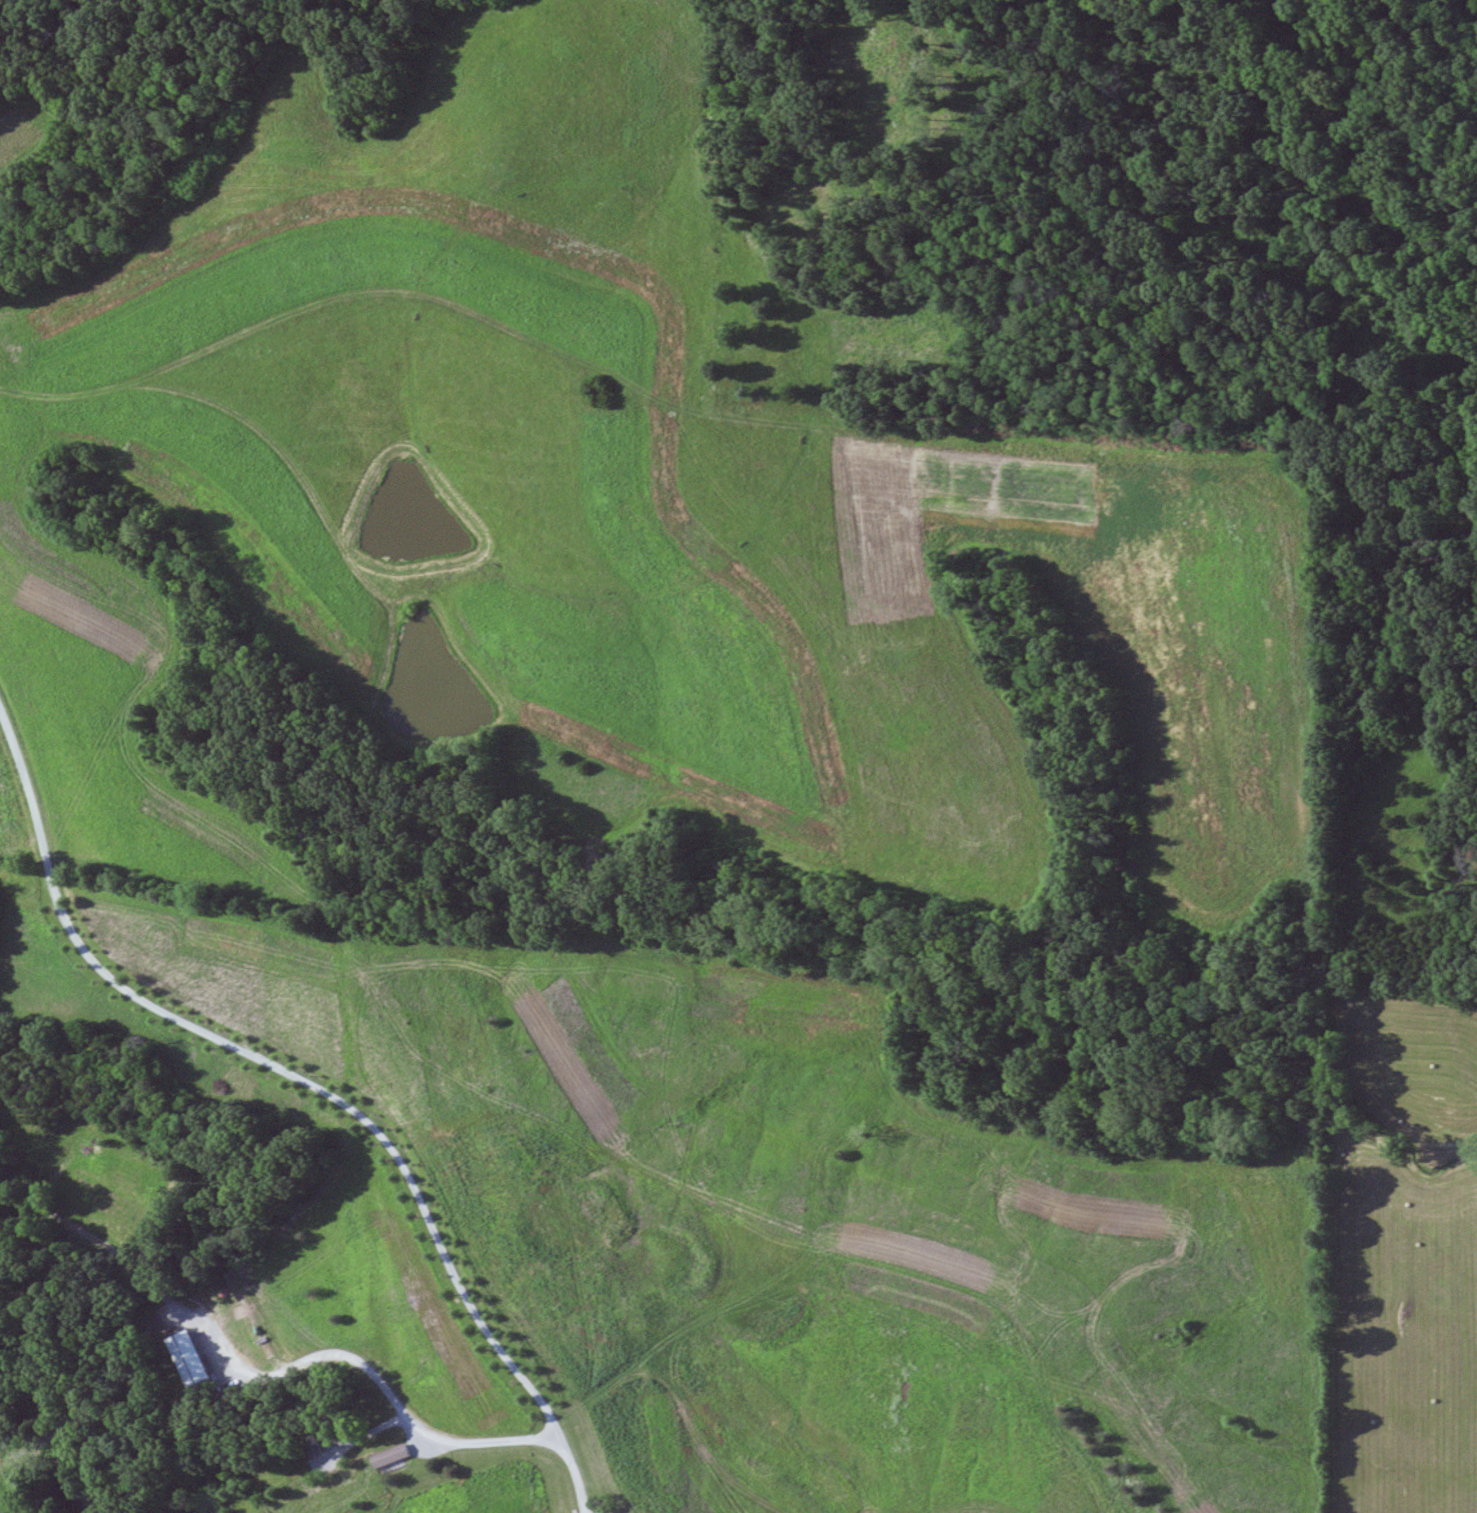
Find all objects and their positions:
road: (660, 957)
road: (311, 1084)
building: (32, 1129)
building: (199, 1359)
road: (381, 1377)
road: (718, 1433)
building: (401, 1456)
road: (401, 1464)

